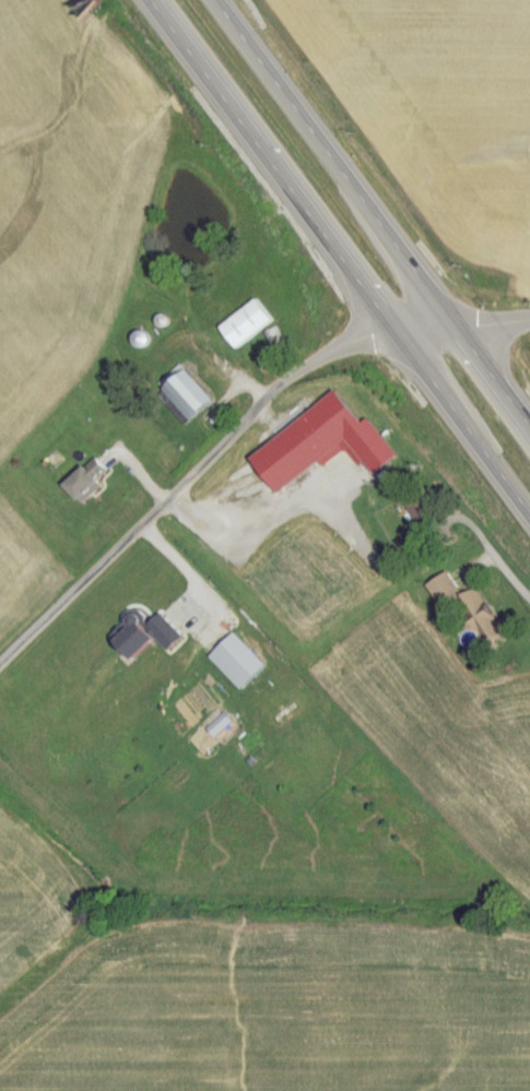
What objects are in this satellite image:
road: (376, 209)
road: (344, 251)
road: (495, 321)
building: (243, 325)
road: (432, 328)
building: (364, 447)
road: (192, 481)
building: (416, 507)
road: (258, 520)
road: (182, 566)
road: (514, 578)
building: (235, 663)

